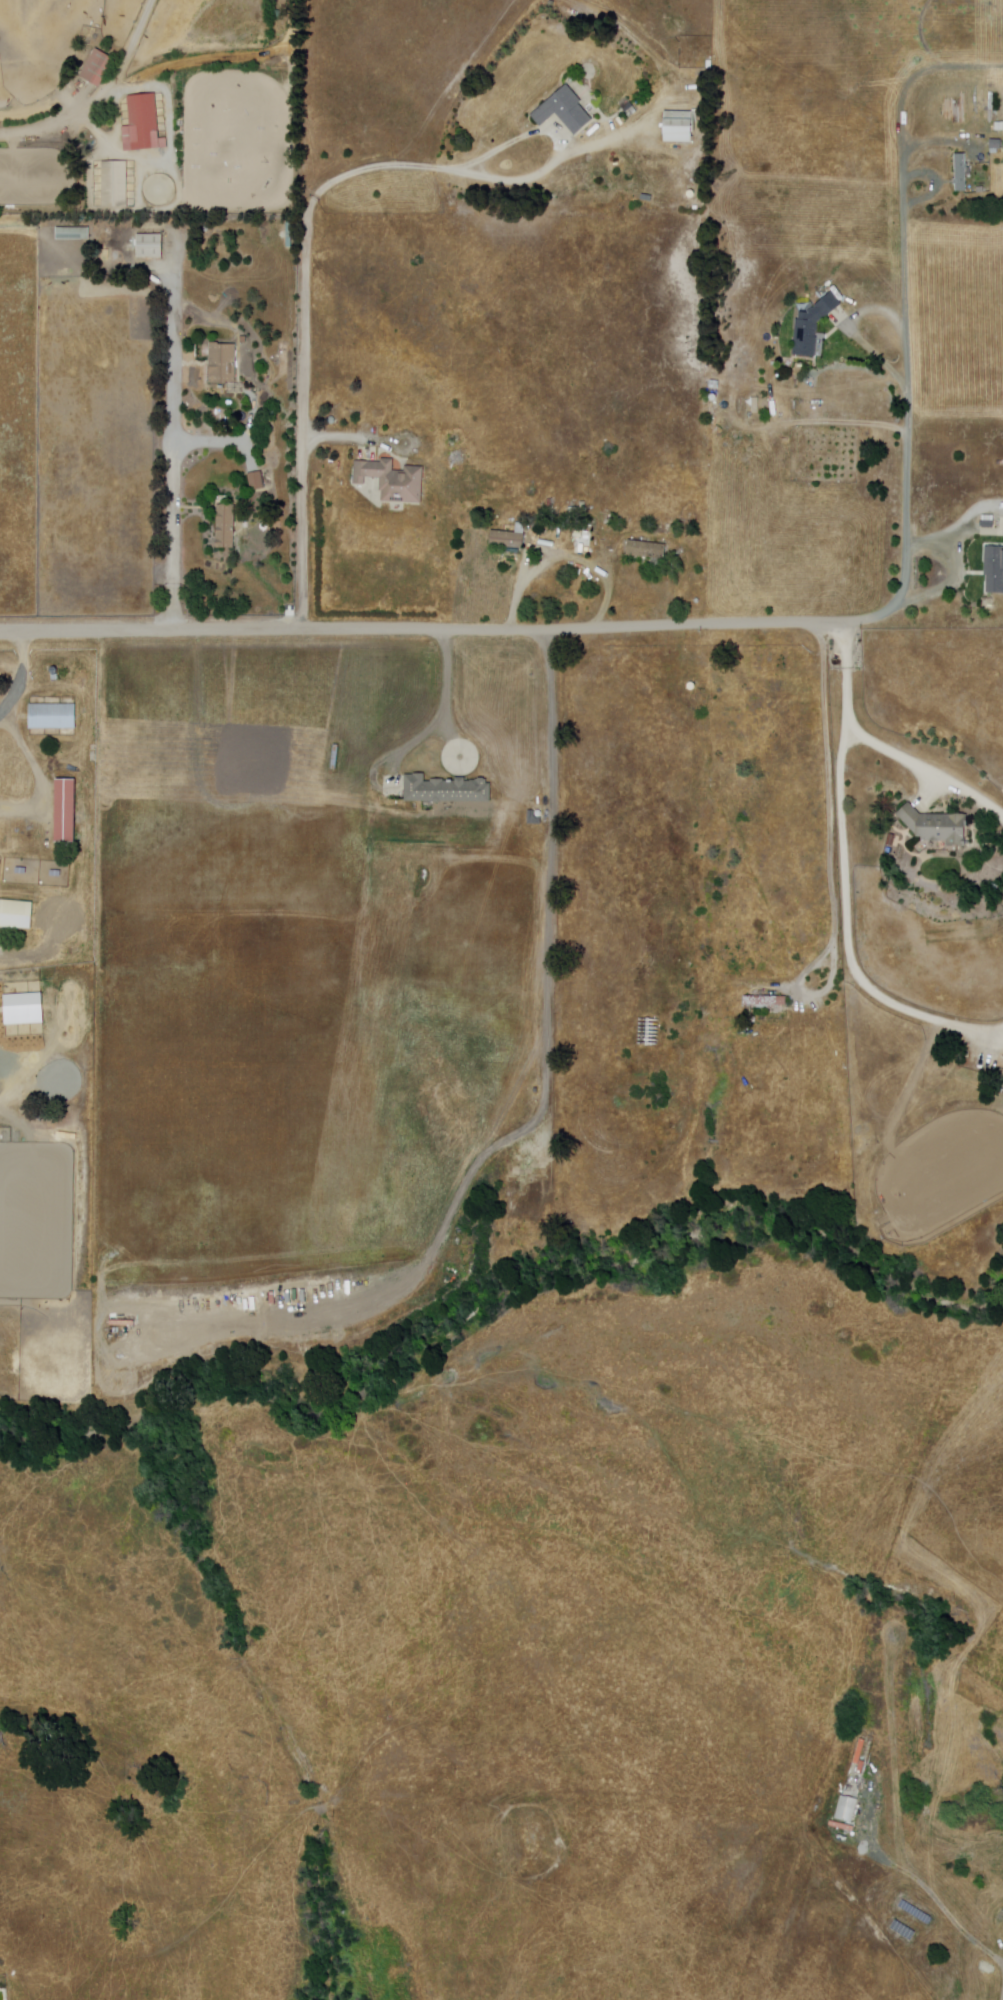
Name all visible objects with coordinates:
storage tank: (277, 0)
storage tank: (278, 14)
building: (96, 68)
road: (100, 96)
building: (974, 107)
building: (564, 111)
building: (143, 123)
building: (973, 124)
building: (680, 127)
building: (999, 127)
building: (996, 145)
road: (555, 165)
building: (961, 174)
building: (115, 185)
storage tank: (691, 195)
building: (72, 235)
building: (149, 247)
road: (905, 266)
road: (306, 294)
building: (812, 326)
building: (891, 335)
building: (243, 340)
building: (220, 361)
road: (173, 363)
storage tank: (713, 397)
storage tank: (331, 420)
road: (909, 421)
road: (334, 440)
building: (392, 480)
building: (256, 481)
road: (174, 504)
building: (988, 521)
building: (225, 526)
building: (1002, 528)
building: (508, 539)
building: (610, 540)
building: (583, 542)
building: (647, 550)
building: (285, 557)
road: (561, 563)
building: (994, 569)
road: (963, 572)
road: (431, 631)
road: (18, 674)
road: (847, 675)
storage tank: (691, 687)
road: (442, 716)
building: (51, 717)
road: (928, 768)
building: (446, 790)
building: (65, 812)
storage tank: (538, 814)
building: (533, 819)
building: (936, 826)
building: (921, 848)
building: (20, 871)
building: (55, 874)
building: (995, 889)
building: (15, 915)
road: (848, 933)
building: (24, 991)
building: (765, 1002)
building: (989, 1068)
building: (1002, 1077)
building: (847, 1810)

